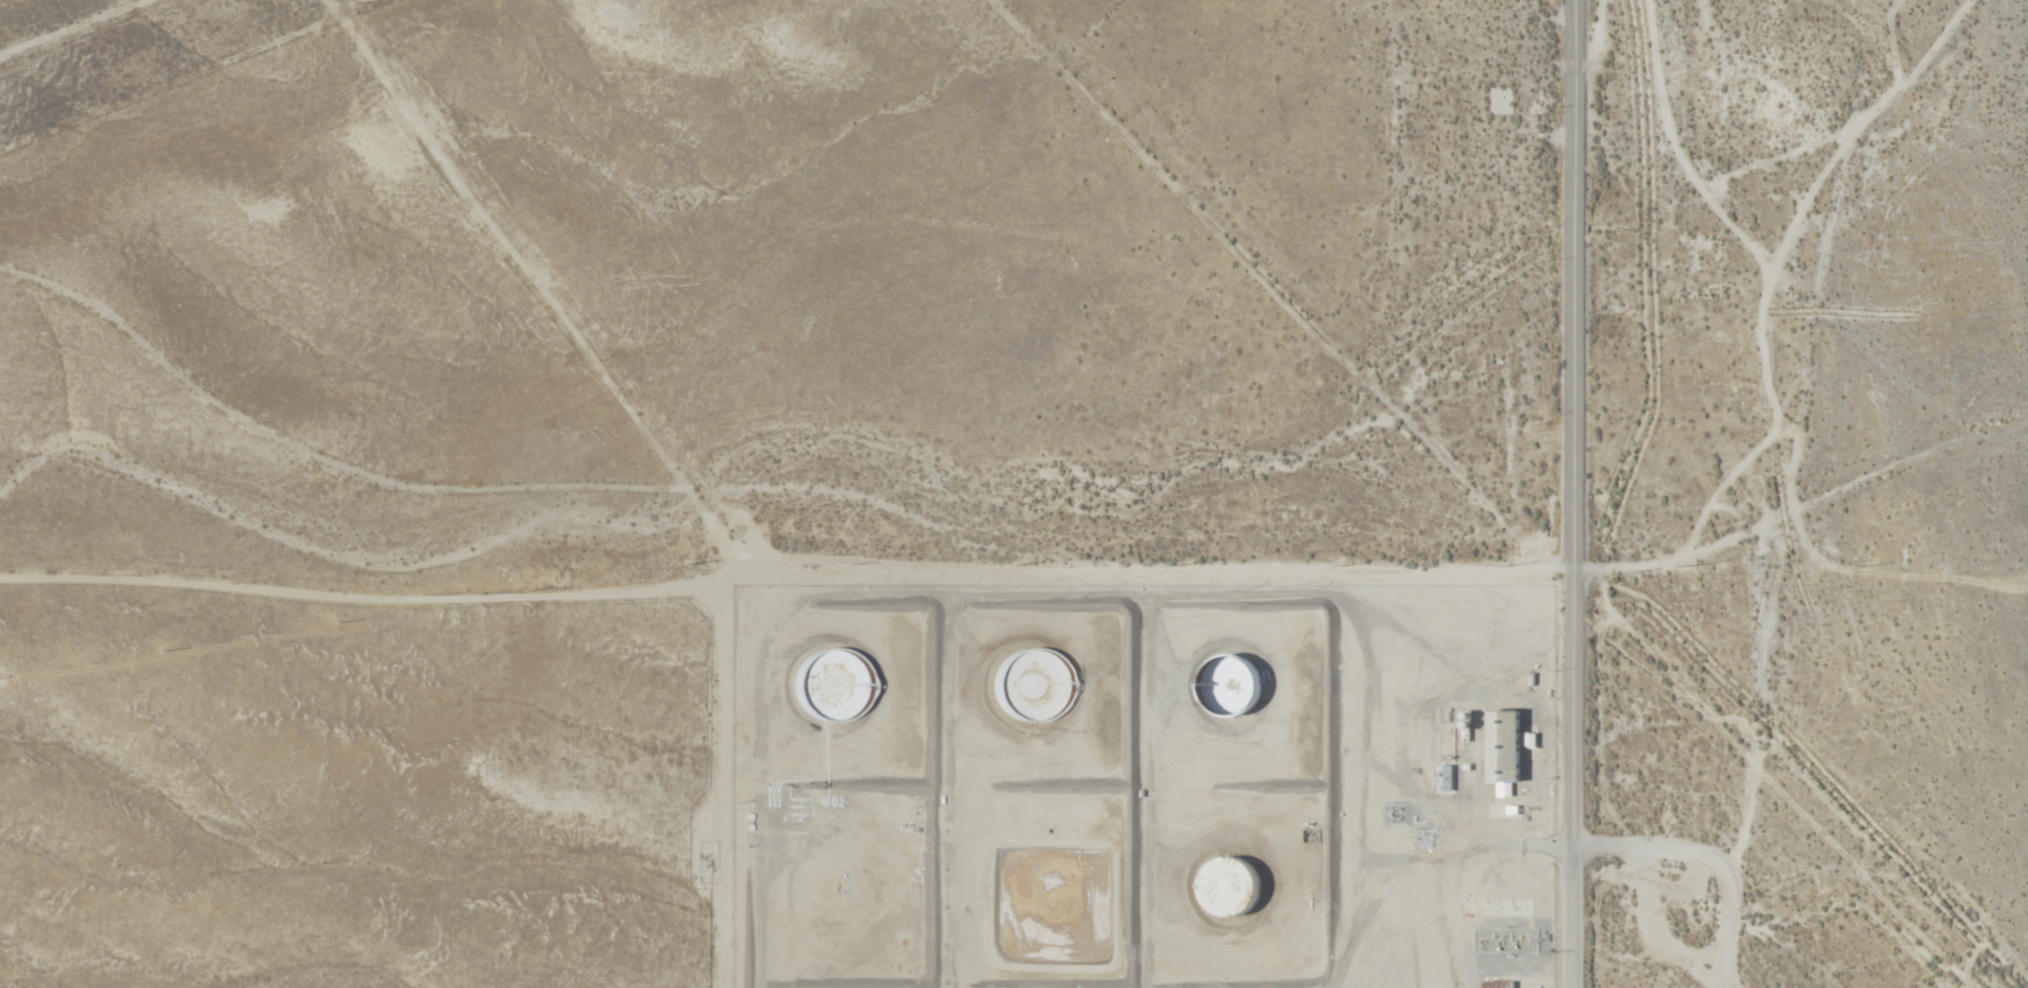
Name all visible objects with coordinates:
road: (1581, 2)
road: (1270, 284)
road: (318, 456)
road: (663, 457)
road: (1574, 494)
road: (1683, 539)
road: (784, 571)
building: (830, 685)
building: (1227, 686)
building: (1031, 687)
building: (1502, 746)
building: (1423, 759)
building: (1444, 778)
building: (1227, 888)
road: (1612, 969)
building: (1498, 985)

